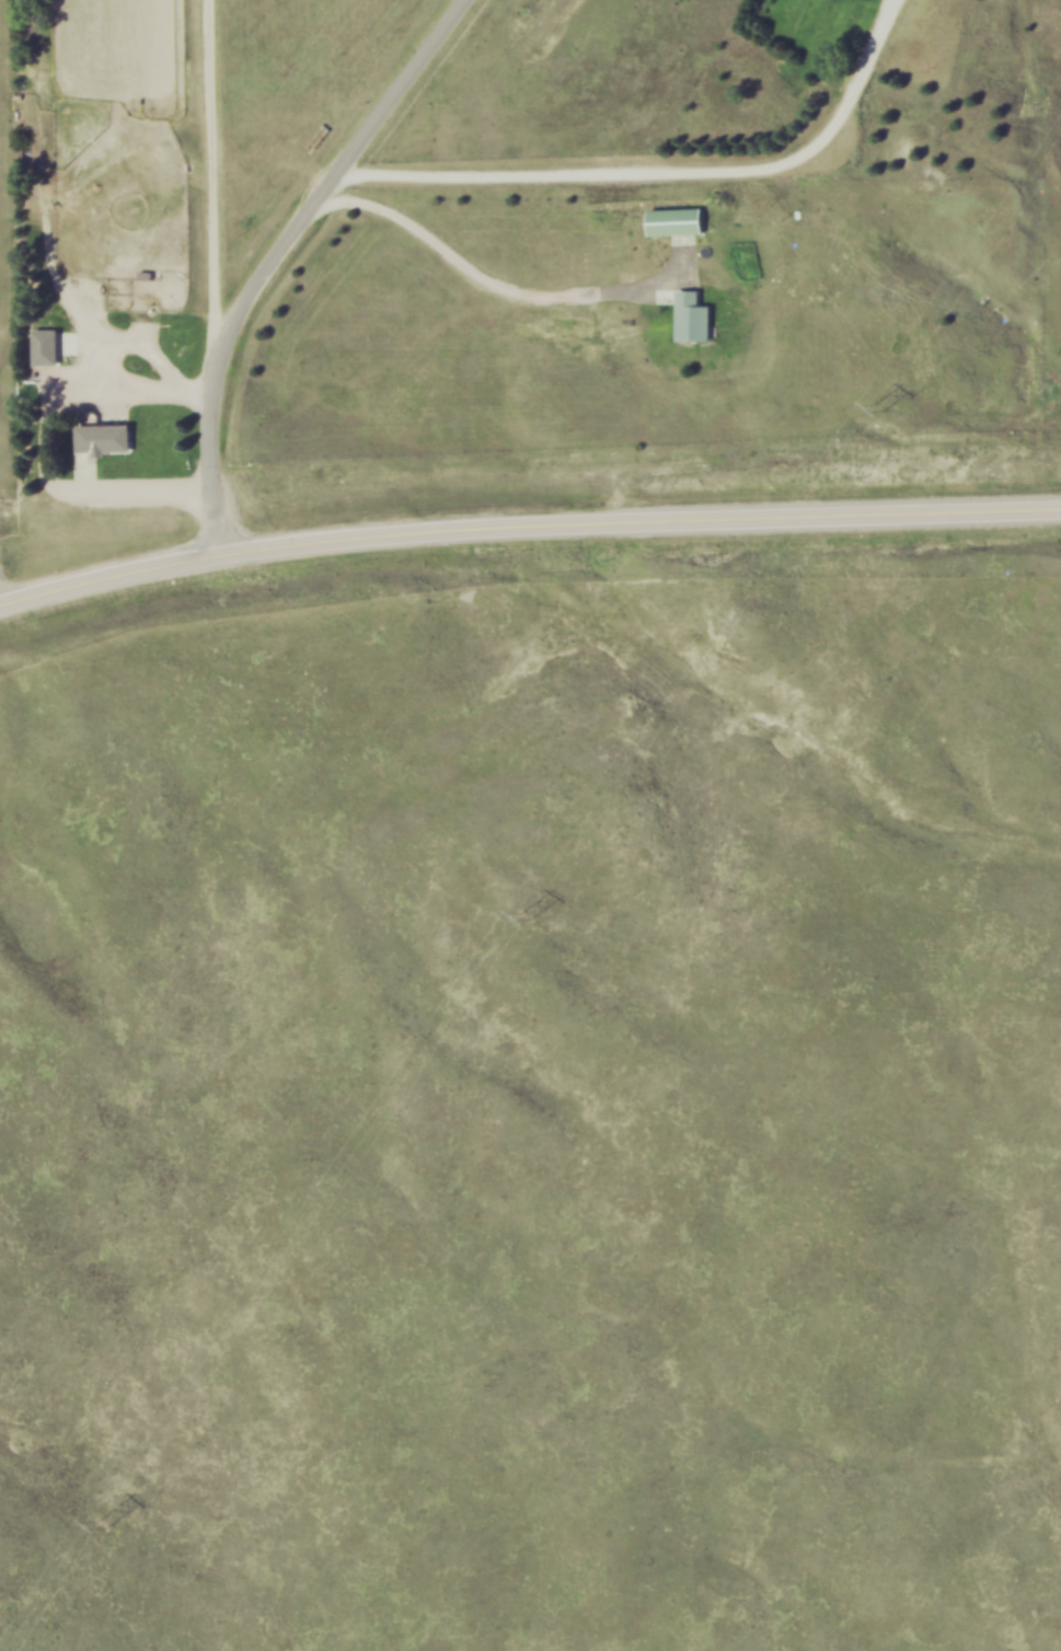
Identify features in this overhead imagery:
road: (205, 166)
road: (664, 176)
building: (679, 220)
road: (275, 256)
road: (483, 290)
building: (696, 315)
building: (73, 342)
building: (48, 346)
power tower: (885, 406)
building: (107, 437)
road: (527, 532)
power tower: (531, 915)
power tower: (107, 1523)

